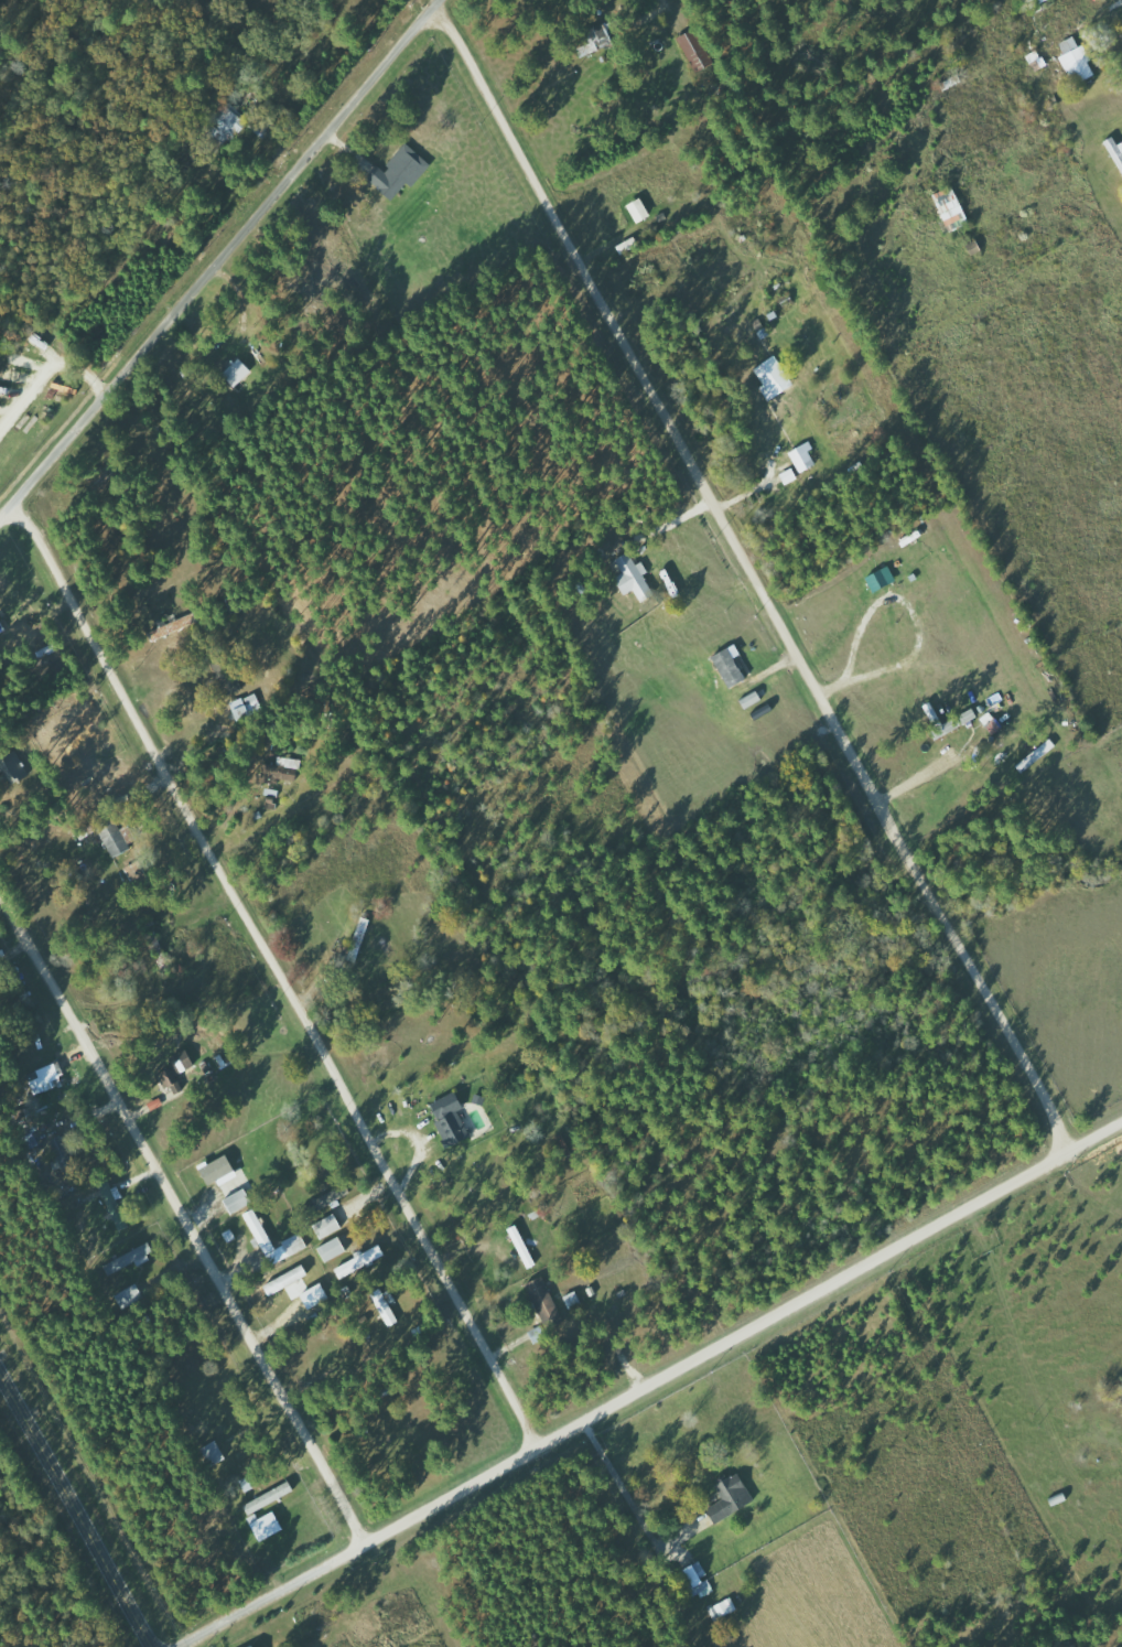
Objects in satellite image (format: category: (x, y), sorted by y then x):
road: (431, 1)
building: (603, 37)
building: (698, 50)
building: (1078, 61)
park: (87, 122)
building: (1115, 150)
building: (401, 172)
building: (953, 207)
road: (217, 260)
building: (238, 372)
building: (775, 378)
building: (805, 457)
building: (790, 476)
building: (633, 577)
road: (747, 577)
building: (731, 668)
building: (11, 771)
building: (282, 771)
building: (116, 839)
road: (274, 978)
building: (45, 1079)
building: (170, 1080)
building: (452, 1120)
building: (65, 1158)
building: (219, 1170)
building: (239, 1201)
road: (181, 1219)
building: (330, 1226)
building: (298, 1240)
building: (334, 1249)
building: (131, 1259)
building: (362, 1262)
building: (290, 1283)
building: (316, 1296)
building: (546, 1306)
building: (388, 1307)
road: (743, 1332)
building: (270, 1497)
building: (733, 1497)
road: (77, 1508)
building: (269, 1526)
park: (44, 1569)
building: (699, 1579)
building: (257, 1646)

